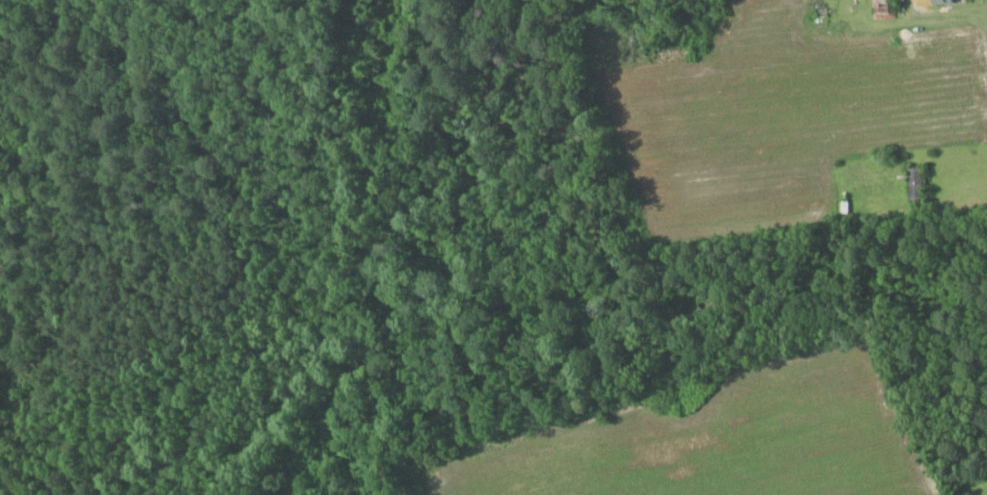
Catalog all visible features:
building: (912, 183)

